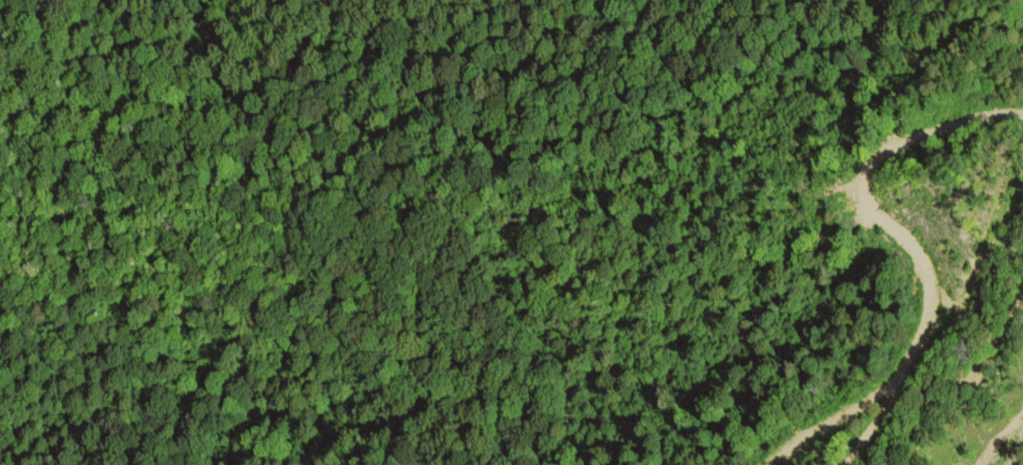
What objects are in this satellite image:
road: (914, 261)
road: (874, 425)
road: (1000, 439)

